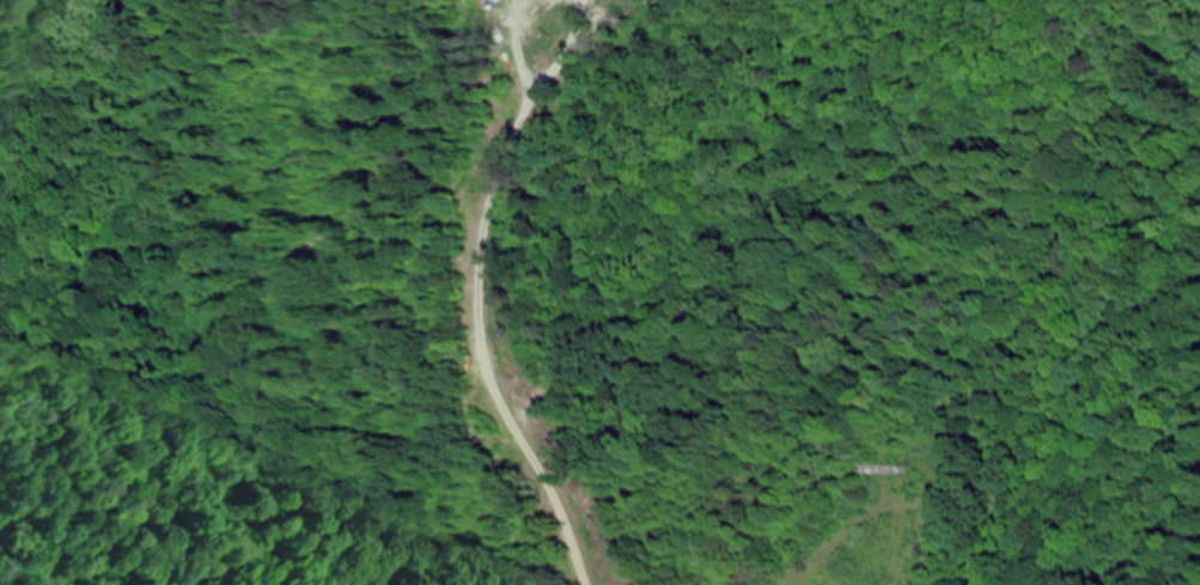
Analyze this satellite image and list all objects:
road: (916, 408)
building: (887, 470)

